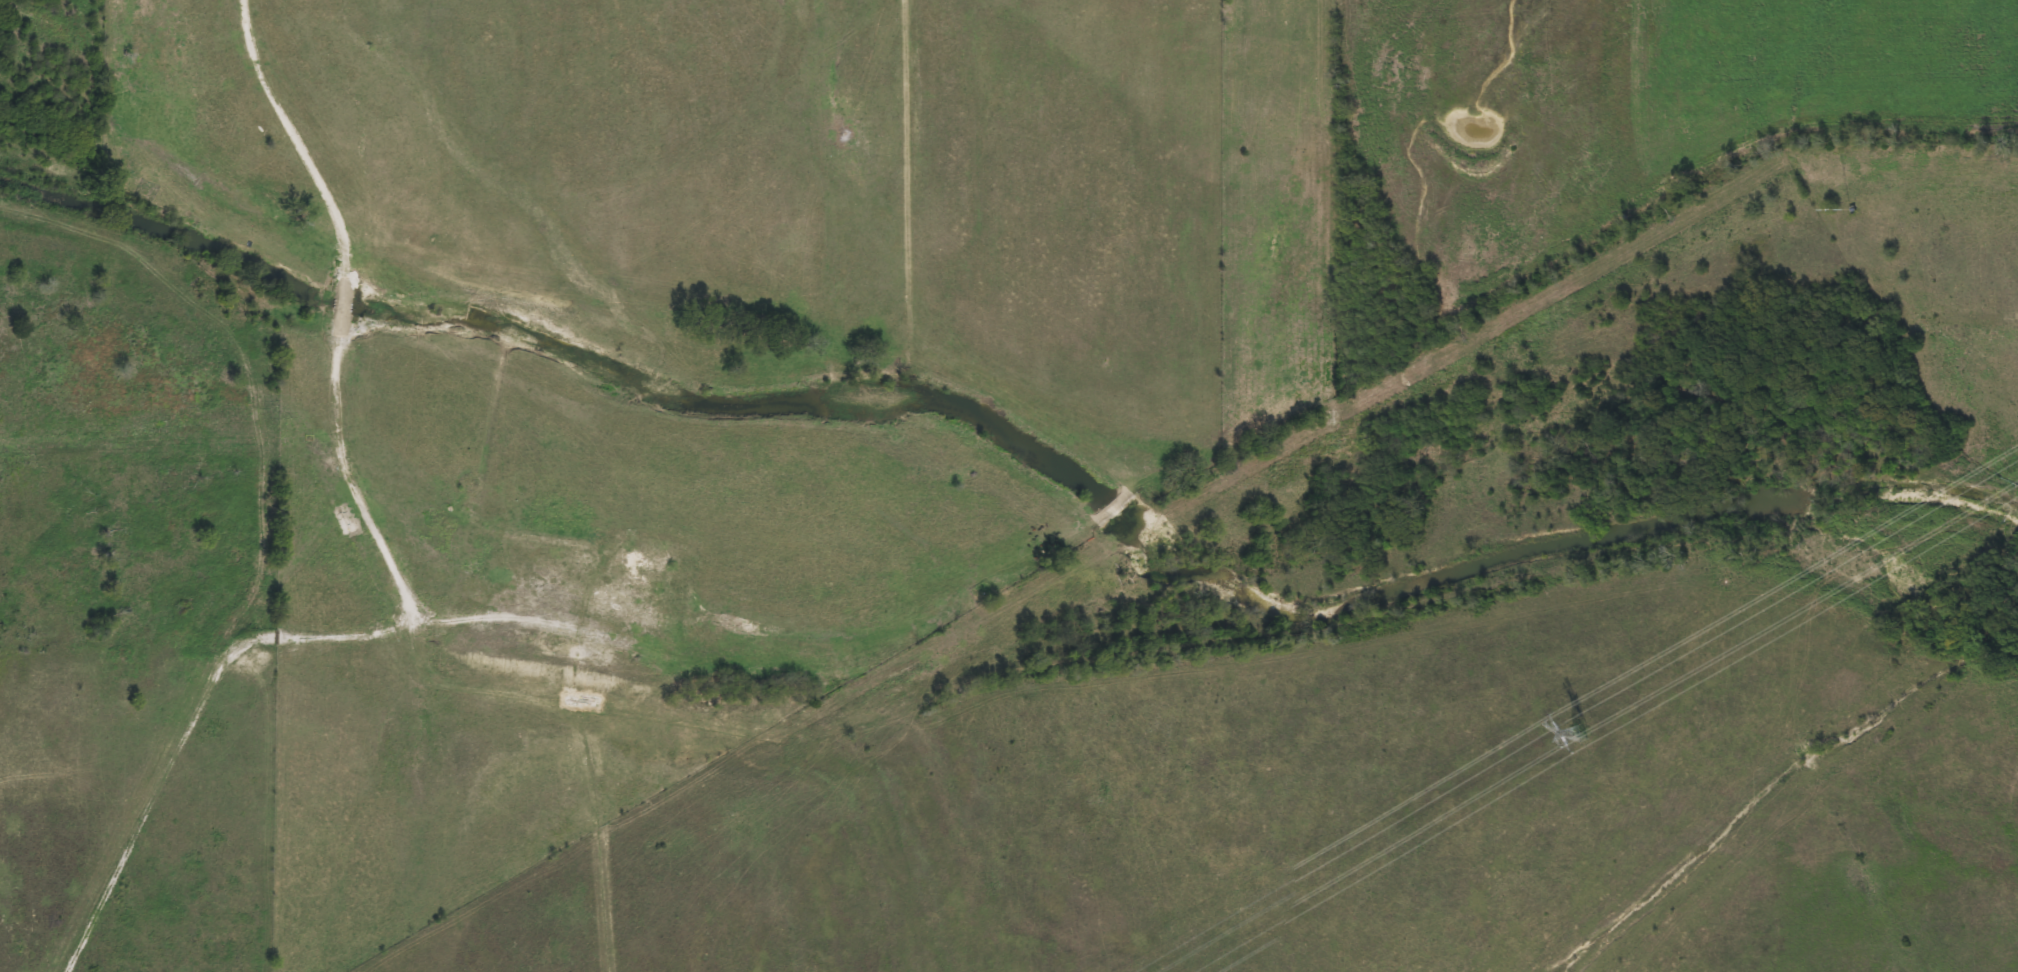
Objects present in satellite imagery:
road: (303, 157)
power tower: (1578, 734)

